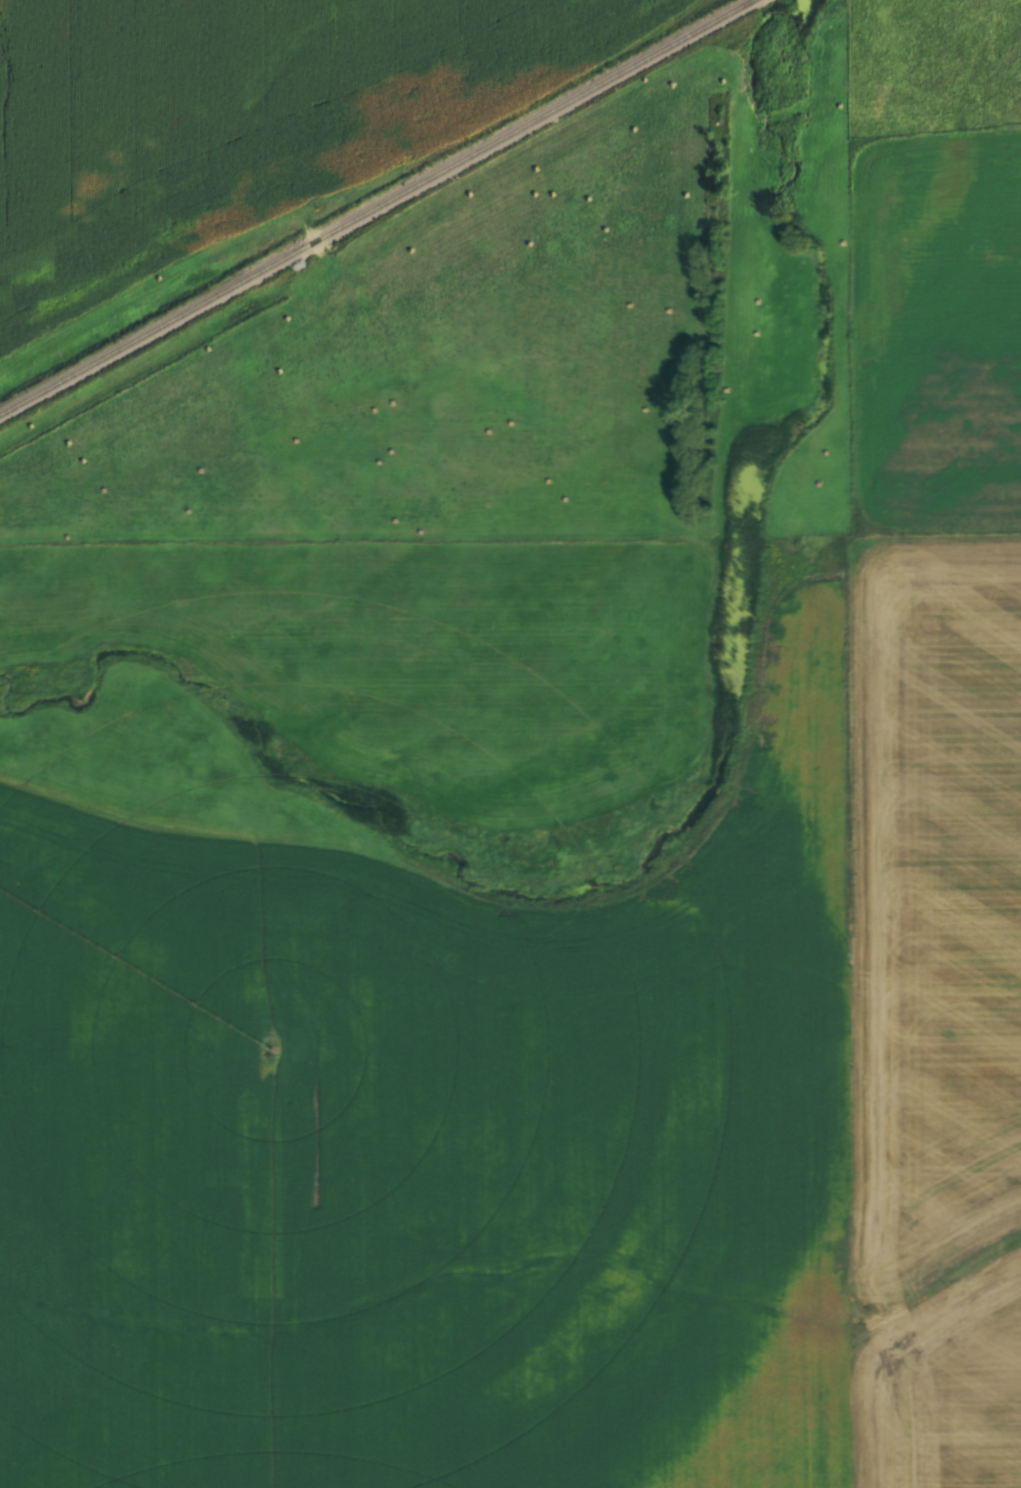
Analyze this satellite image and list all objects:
railway: (376, 208)

